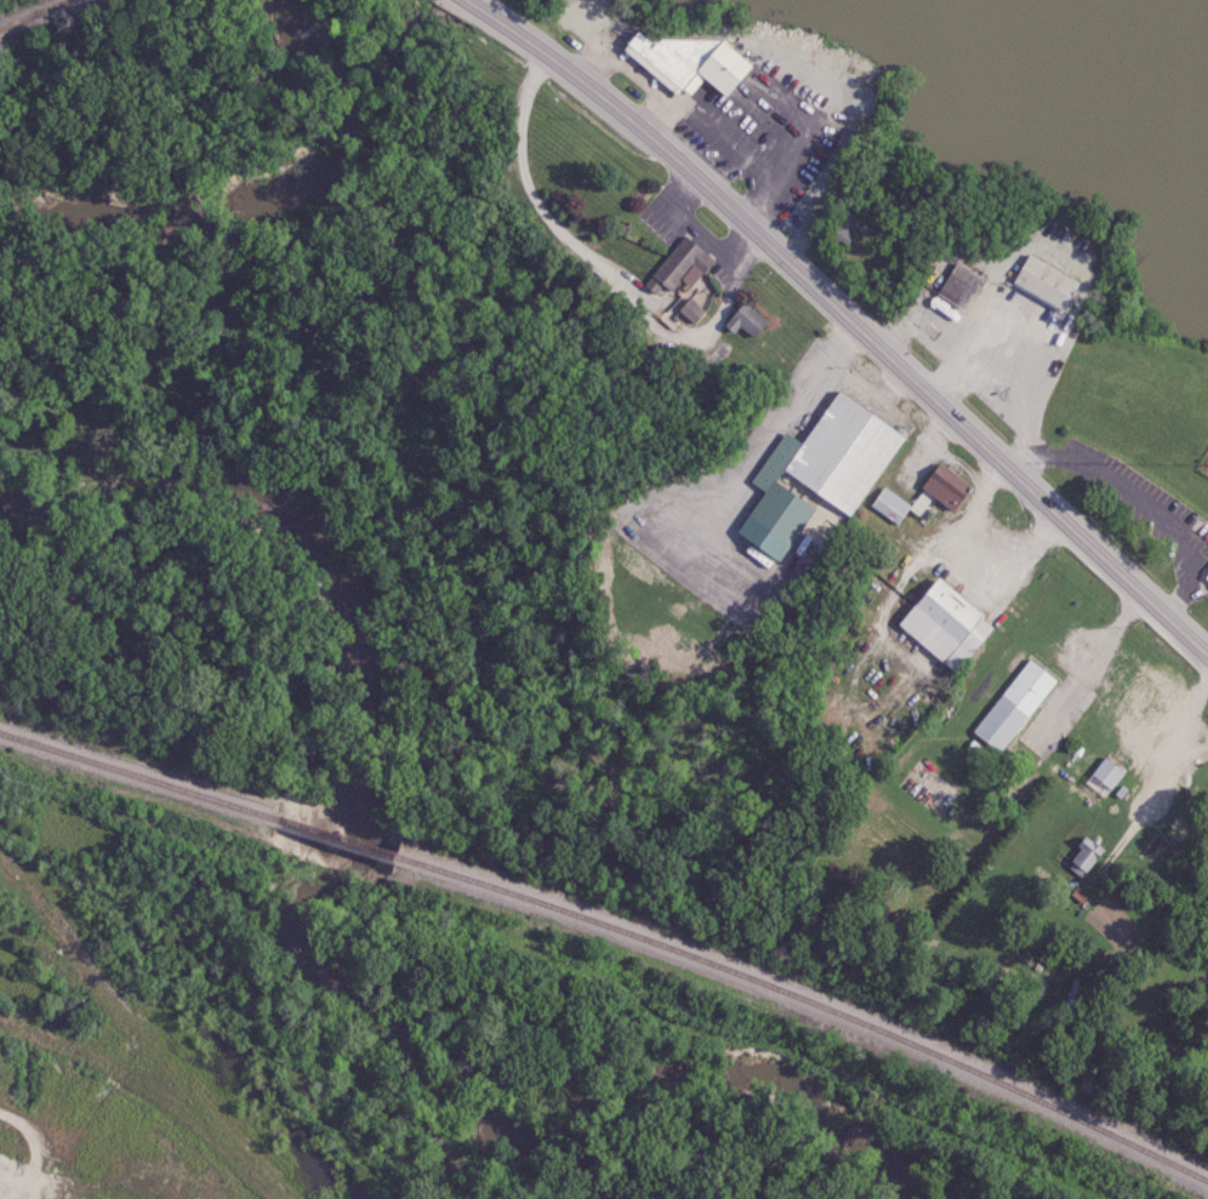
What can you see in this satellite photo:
railway: (28, 11)
building: (686, 62)
building: (843, 227)
building: (678, 267)
building: (1039, 281)
building: (958, 285)
building: (690, 310)
road: (847, 315)
building: (743, 320)
building: (839, 450)
building: (942, 485)
building: (889, 504)
building: (1206, 575)
building: (944, 624)
road: (1082, 662)
building: (1014, 704)
road: (1168, 765)
building: (1104, 776)
railway: (135, 777)
railway: (332, 839)
building: (1083, 856)
railway: (808, 1003)
railway: (135, 1027)

